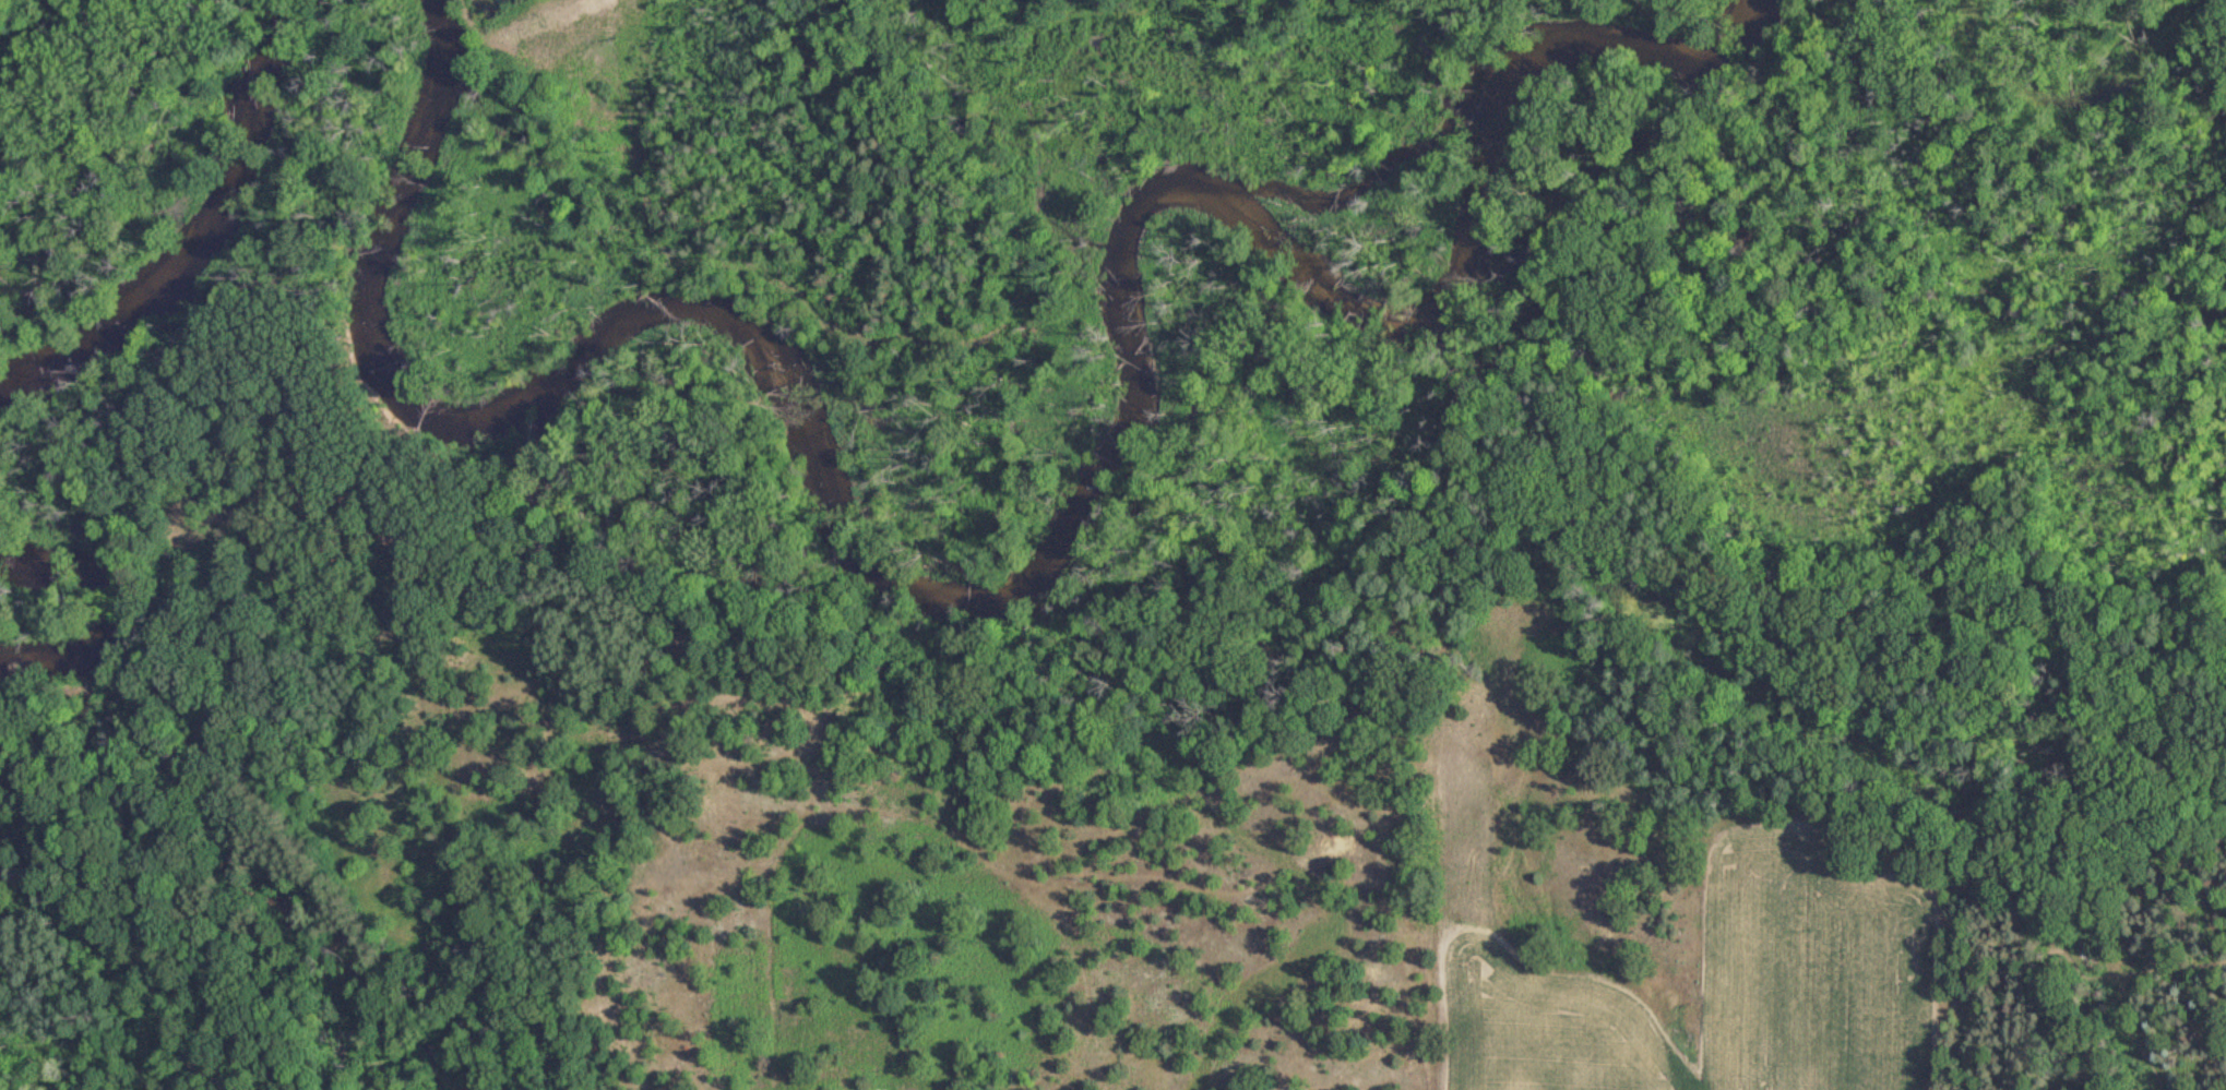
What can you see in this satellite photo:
river: (202, 237)
river: (1047, 568)
river: (115, 612)

